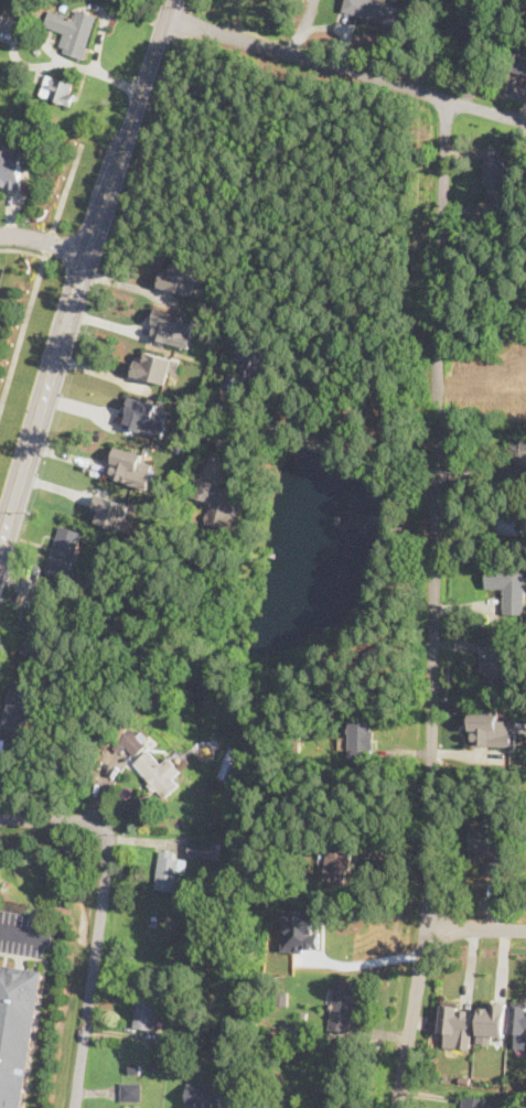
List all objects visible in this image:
road: (98, 7)
building: (377, 11)
building: (0, 15)
building: (73, 30)
building: (461, 32)
road: (99, 37)
road: (14, 58)
building: (519, 63)
road: (345, 68)
building: (61, 90)
building: (11, 169)
building: (496, 172)
road: (67, 190)
road: (44, 241)
road: (51, 246)
road: (83, 271)
building: (180, 280)
road: (30, 313)
building: (171, 329)
building: (248, 359)
building: (154, 367)
building: (142, 418)
road: (332, 451)
building: (519, 458)
building: (129, 469)
building: (219, 504)
building: (110, 513)
building: (514, 526)
building: (64, 555)
building: (508, 588)
road: (434, 605)
building: (36, 631)
building: (494, 665)
building: (20, 704)
building: (490, 731)
building: (361, 738)
building: (131, 743)
building: (160, 776)
building: (302, 842)
building: (490, 845)
road: (373, 847)
building: (200, 850)
building: (525, 858)
building: (336, 865)
building: (169, 871)
road: (96, 916)
road: (22, 928)
road: (474, 928)
road: (366, 959)
building: (281, 998)
building: (342, 1007)
building: (147, 1010)
building: (302, 1015)
building: (493, 1021)
building: (519, 1024)
building: (457, 1025)
building: (17, 1030)
building: (292, 1032)
building: (169, 1035)
building: (285, 1055)
building: (153, 1067)
building: (135, 1069)
building: (132, 1093)
building: (204, 1096)
building: (472, 1102)
building: (129, 1107)

